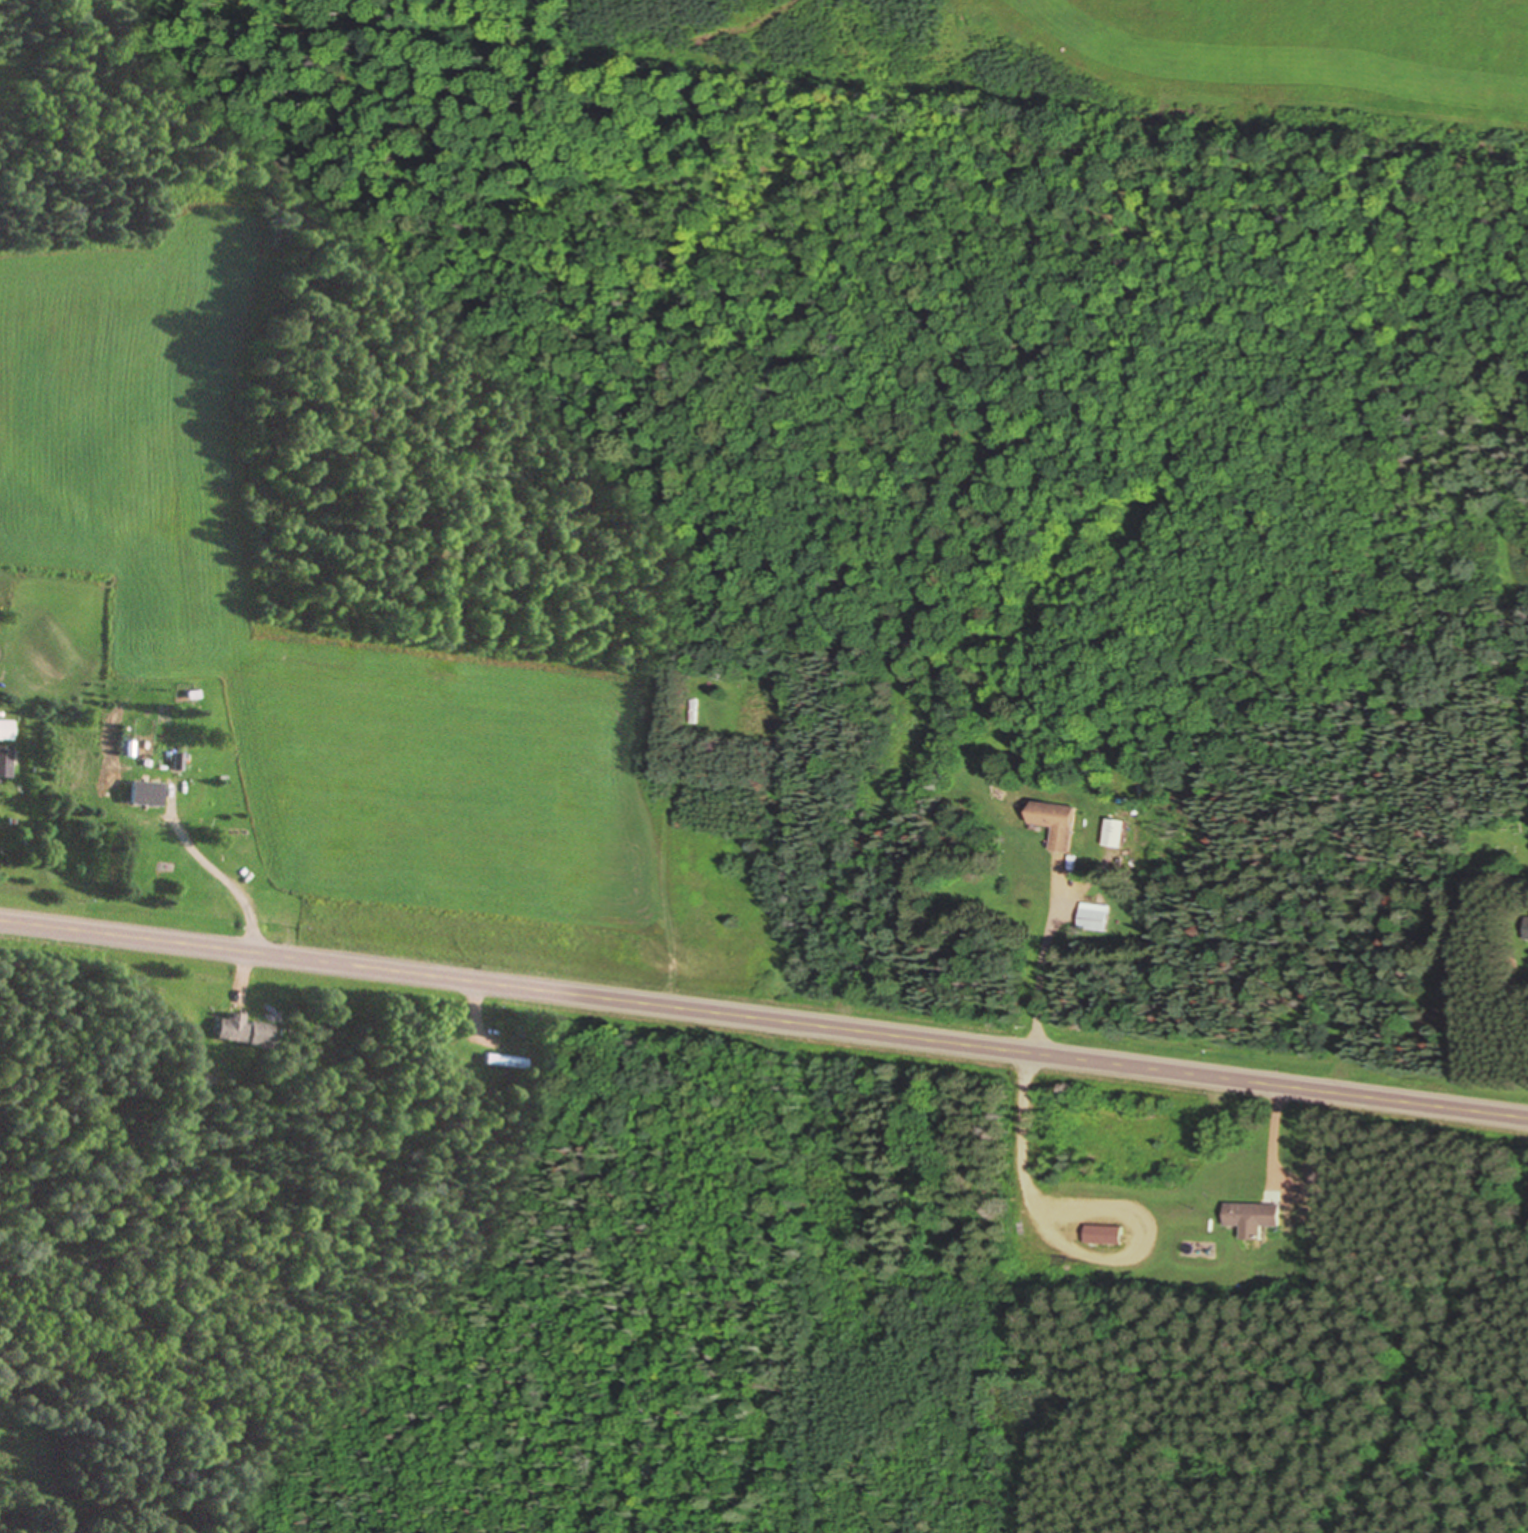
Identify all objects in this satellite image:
building: (5, 730)
building: (4, 761)
building: (175, 762)
building: (142, 793)
building: (1060, 823)
road: (244, 901)
building: (1098, 917)
road: (472, 1004)
road: (763, 1019)
building: (241, 1031)
road: (1032, 1044)
building: (503, 1061)
road: (1276, 1130)
building: (1259, 1214)
building: (1107, 1234)

